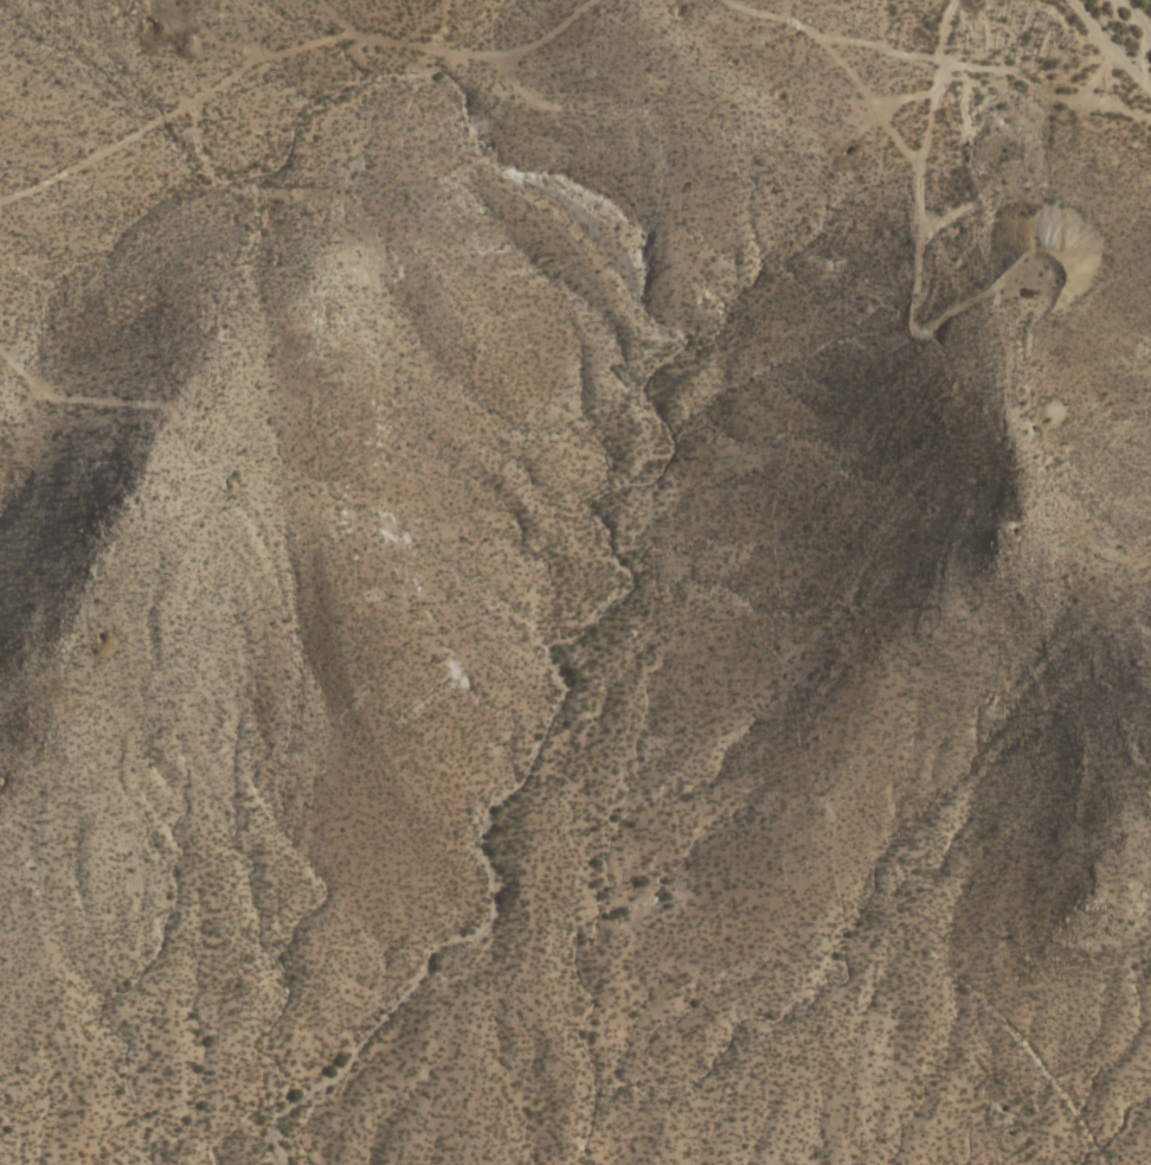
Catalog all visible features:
road: (1108, 44)
road: (933, 79)

